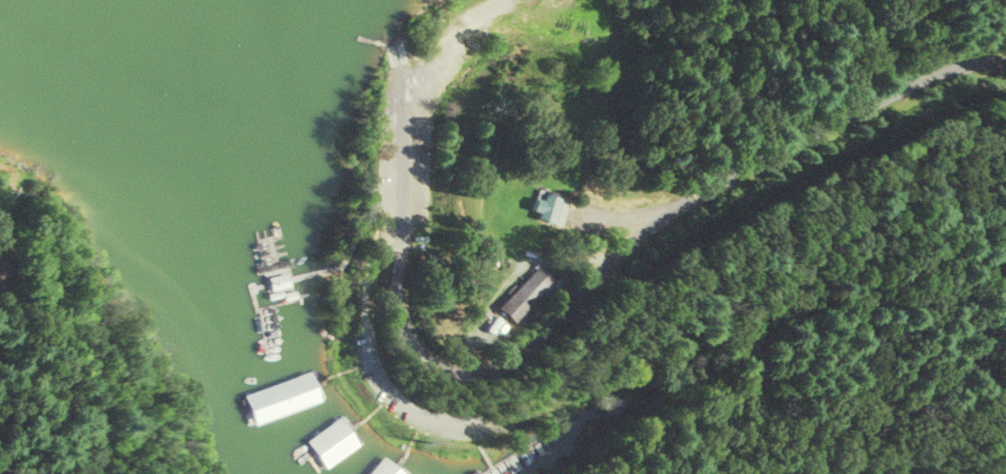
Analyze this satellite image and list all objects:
parking lot: (519, 34)
road: (452, 40)
road: (405, 62)
building: (552, 210)
road: (580, 287)
building: (530, 292)
road: (835, 318)
road: (369, 360)
road: (918, 379)
building: (280, 396)
road: (60, 405)
building: (331, 443)
road: (863, 467)
building: (384, 468)

